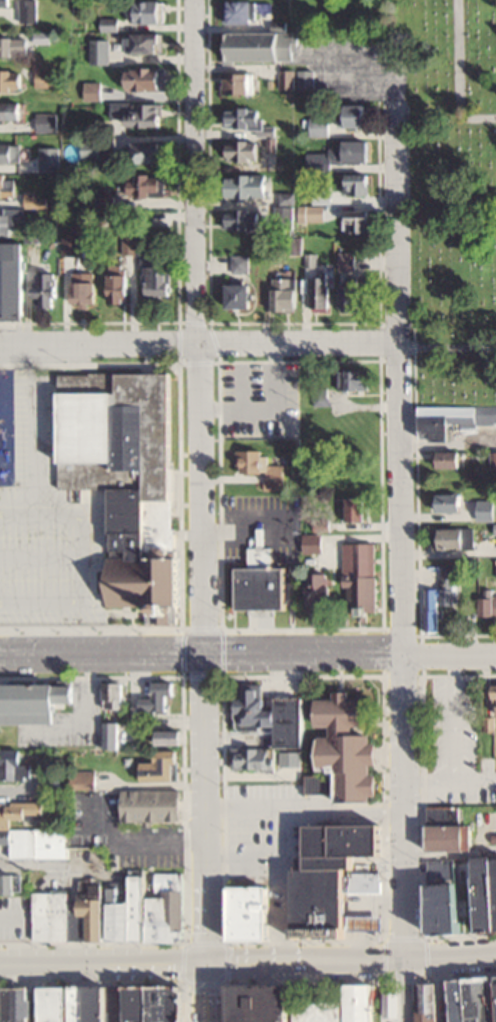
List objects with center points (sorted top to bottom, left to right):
building: (6, 2)
building: (29, 10)
building: (150, 11)
building: (239, 11)
building: (108, 24)
building: (144, 43)
building: (261, 45)
building: (14, 46)
building: (97, 52)
building: (45, 77)
building: (147, 79)
building: (286, 79)
building: (305, 79)
building: (12, 80)
building: (235, 83)
building: (91, 91)
building: (12, 110)
building: (138, 113)
building: (352, 115)
building: (250, 122)
building: (45, 123)
building: (318, 127)
building: (89, 149)
building: (243, 150)
building: (149, 151)
building: (10, 153)
building: (340, 155)
building: (35, 167)
building: (7, 184)
building: (248, 184)
building: (357, 184)
building: (147, 185)
building: (313, 196)
building: (36, 199)
park: (451, 200)
building: (286, 210)
building: (310, 213)
building: (244, 218)
building: (7, 221)
building: (356, 221)
building: (127, 237)
building: (71, 244)
building: (292, 245)
building: (147, 251)
building: (310, 259)
building: (346, 260)
building: (240, 263)
building: (159, 280)
building: (120, 288)
building: (44, 289)
building: (320, 291)
building: (285, 292)
building: (84, 293)
building: (240, 295)
building: (351, 296)
road: (198, 341)
building: (353, 378)
building: (452, 418)
building: (360, 430)
building: (451, 458)
building: (493, 460)
building: (262, 467)
building: (126, 477)
road: (200, 481)
building: (453, 501)
building: (357, 508)
building: (487, 508)
building: (495, 527)
building: (452, 537)
building: (313, 542)
road: (399, 560)
building: (361, 577)
building: (265, 587)
building: (321, 591)
building: (488, 598)
building: (440, 599)
road: (248, 652)
building: (495, 693)
building: (36, 698)
building: (161, 698)
building: (253, 709)
building: (114, 715)
building: (289, 720)
building: (170, 737)
building: (351, 744)
building: (267, 758)
building: (14, 764)
building: (163, 766)
building: (153, 804)
road: (302, 810)
building: (448, 830)
building: (30, 831)
building: (332, 880)
building: (9, 883)
road: (284, 886)
building: (462, 895)
building: (115, 910)
building: (254, 913)
road: (248, 962)
road: (209, 992)
building: (475, 999)
building: (363, 1002)
building: (133, 1003)
building: (16, 1004)
building: (59, 1004)
building: (282, 1006)

